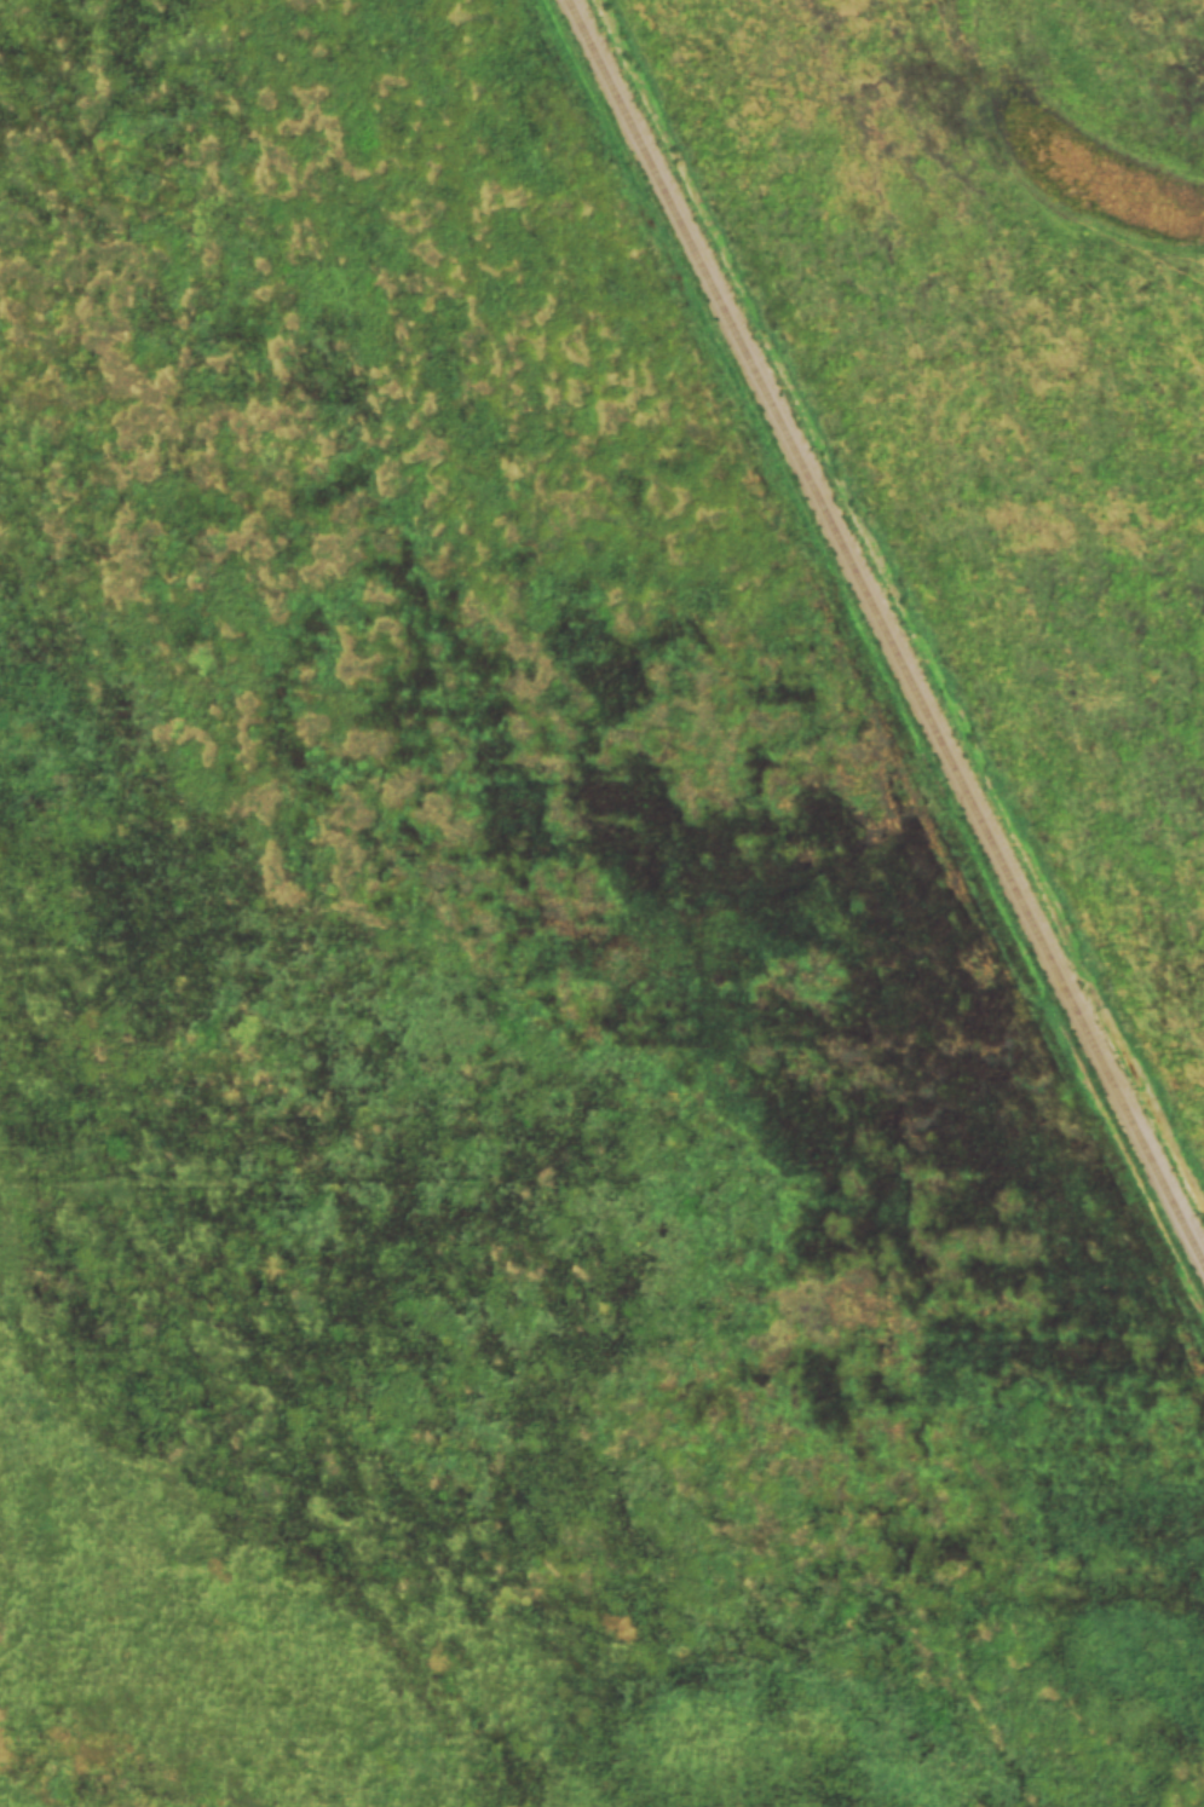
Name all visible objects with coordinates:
railway: (887, 631)

